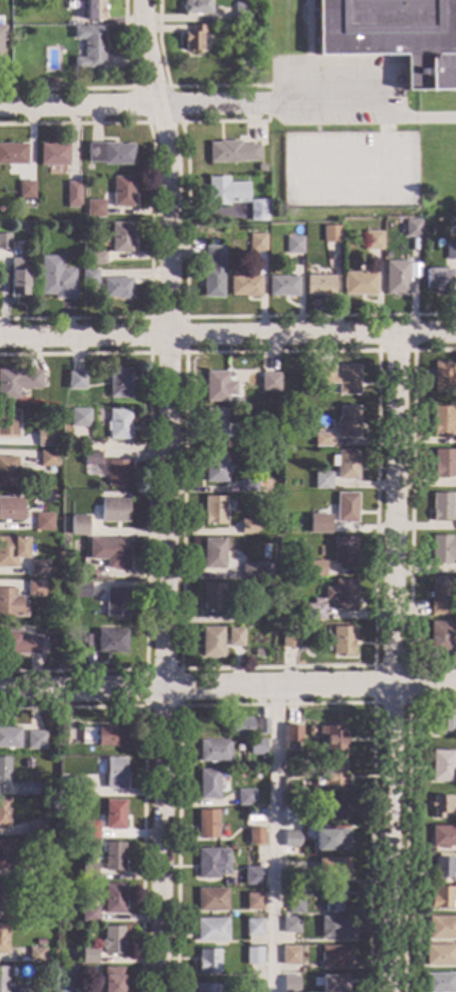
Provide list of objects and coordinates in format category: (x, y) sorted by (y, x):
building: (71, 5)
building: (196, 6)
building: (93, 9)
building: (241, 11)
road: (306, 28)
building: (394, 36)
building: (193, 38)
building: (1, 39)
building: (89, 46)
road: (145, 52)
building: (242, 62)
road: (174, 85)
parking lot: (336, 89)
road: (131, 104)
road: (361, 104)
road: (177, 120)
road: (381, 129)
building: (231, 151)
building: (110, 152)
building: (53, 154)
building: (13, 156)
building: (260, 168)
parking lot: (349, 169)
road: (398, 185)
building: (122, 191)
building: (225, 191)
building: (26, 193)
building: (72, 194)
building: (95, 207)
building: (257, 210)
building: (412, 227)
building: (330, 233)
building: (120, 237)
building: (372, 240)
building: (5, 241)
building: (256, 242)
building: (293, 244)
building: (450, 251)
building: (95, 258)
building: (312, 267)
building: (213, 272)
building: (89, 276)
building: (17, 277)
building: (396, 277)
building: (56, 278)
building: (437, 279)
building: (358, 282)
building: (245, 285)
building: (282, 285)
building: (319, 285)
building: (117, 287)
road: (184, 302)
road: (227, 335)
road: (394, 350)
road: (148, 352)
road: (183, 353)
building: (442, 376)
building: (339, 377)
building: (75, 380)
building: (17, 382)
building: (118, 382)
building: (269, 382)
building: (217, 386)
building: (80, 417)
building: (442, 419)
building: (8, 422)
building: (346, 422)
building: (117, 424)
building: (214, 427)
building: (44, 437)
building: (321, 439)
building: (264, 442)
building: (91, 457)
building: (48, 459)
building: (443, 462)
building: (344, 463)
building: (215, 466)
building: (10, 471)
building: (115, 471)
building: (321, 480)
building: (247, 485)
building: (440, 505)
building: (345, 507)
building: (10, 508)
road: (409, 509)
building: (113, 510)
building: (213, 510)
building: (43, 521)
building: (77, 525)
building: (321, 525)
building: (249, 526)
building: (34, 547)
road: (164, 547)
building: (442, 549)
building: (12, 550)
building: (343, 550)
building: (109, 551)
building: (214, 552)
building: (38, 567)
building: (315, 568)
building: (51, 569)
building: (249, 569)
building: (99, 578)
building: (35, 588)
building: (82, 589)
building: (341, 594)
building: (211, 596)
building: (440, 597)
building: (315, 600)
building: (115, 602)
building: (11, 603)
building: (314, 611)
building: (248, 613)
building: (38, 626)
building: (441, 635)
building: (235, 637)
building: (290, 638)
building: (342, 640)
building: (106, 641)
building: (211, 641)
building: (19, 643)
road: (391, 663)
road: (309, 683)
road: (81, 688)
road: (371, 701)
road: (276, 703)
road: (178, 704)
building: (440, 720)
building: (238, 725)
building: (262, 726)
building: (104, 735)
building: (10, 737)
building: (292, 737)
building: (332, 737)
building: (36, 739)
building: (257, 746)
building: (214, 750)
building: (441, 765)
building: (5, 771)
building: (298, 771)
building: (114, 773)
building: (333, 777)
building: (208, 782)
building: (28, 788)
building: (90, 789)
building: (247, 797)
building: (440, 805)
building: (332, 809)
building: (4, 813)
building: (114, 814)
building: (291, 815)
road: (405, 822)
building: (208, 823)
building: (38, 828)
building: (89, 829)
building: (443, 835)
building: (256, 836)
road: (271, 838)
building: (330, 840)
building: (292, 844)
building: (4, 854)
building: (113, 855)
building: (212, 862)
building: (441, 867)
building: (333, 869)
building: (88, 871)
building: (23, 872)
building: (254, 875)
building: (4, 896)
building: (440, 897)
building: (113, 898)
building: (211, 899)
building: (333, 899)
building: (254, 900)
building: (296, 902)
building: (36, 913)
building: (88, 913)
building: (291, 924)
building: (334, 926)
building: (254, 927)
building: (442, 927)
building: (212, 929)
building: (3, 938)
building: (112, 940)
building: (40, 942)
building: (439, 953)
building: (36, 954)
building: (87, 955)
building: (254, 955)
building: (290, 955)
building: (334, 955)
building: (208, 961)
building: (3, 979)
building: (111, 979)
building: (439, 982)
building: (290, 983)
building: (332, 983)
building: (253, 987)
building: (208, 988)
building: (24, 989)
building: (85, 990)

